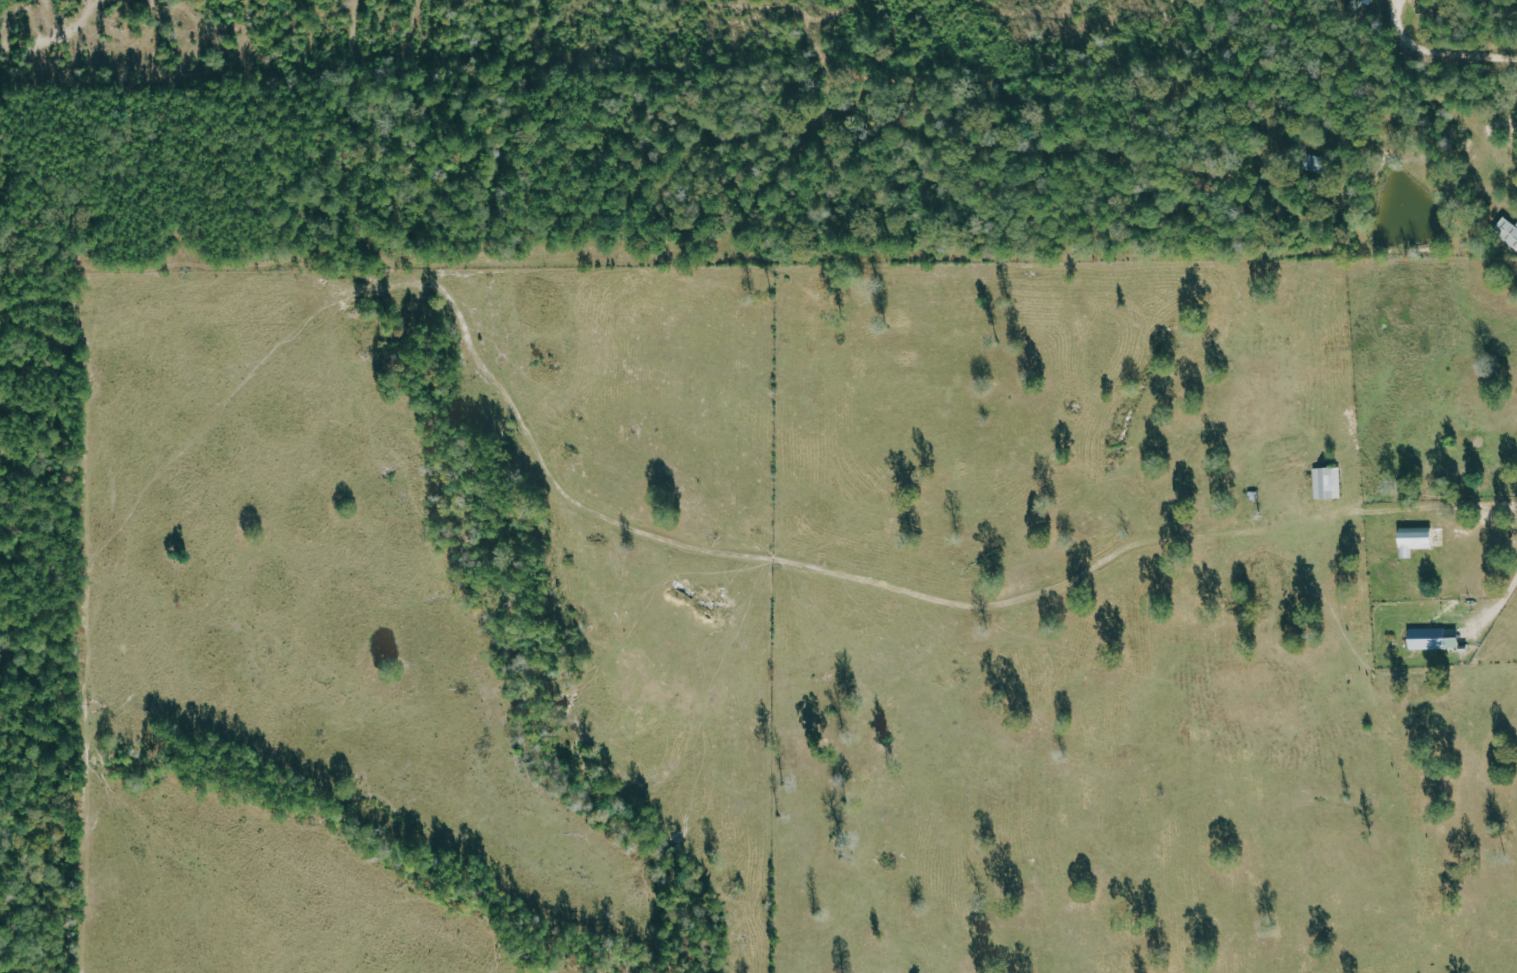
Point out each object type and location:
building: (1357, 4)
road: (1437, 52)
building: (1507, 231)
building: (1327, 482)
road: (1492, 528)
building: (1413, 541)
road: (1497, 626)
building: (1432, 638)

